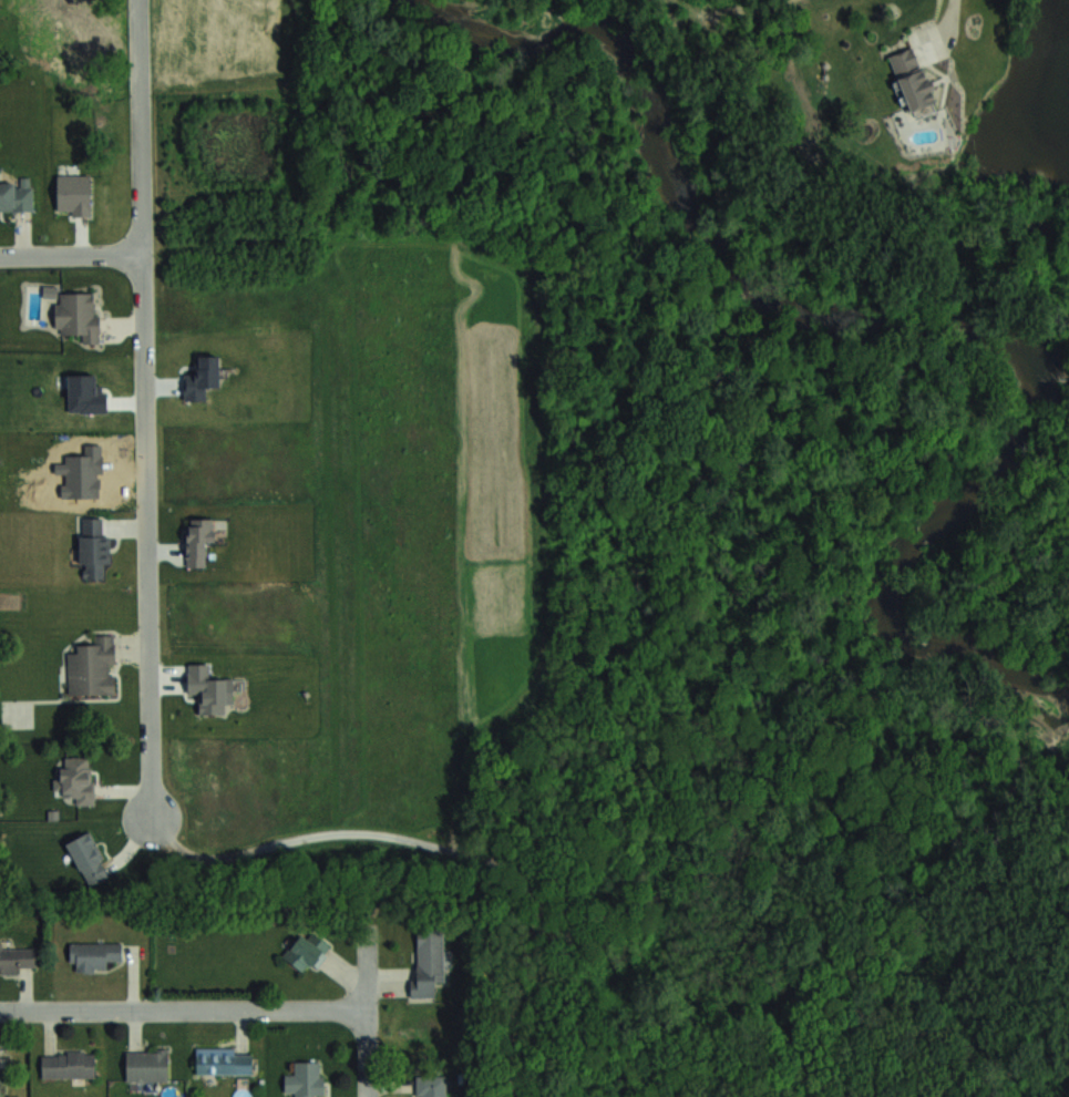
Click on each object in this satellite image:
road: (954, 20)
building: (911, 80)
building: (16, 197)
road: (71, 255)
building: (76, 315)
river: (911, 324)
road: (145, 411)
building: (197, 540)
building: (93, 548)
building: (92, 667)
building: (76, 779)
building: (89, 858)
building: (306, 951)
building: (93, 954)
building: (17, 957)
building: (428, 961)
road: (184, 1007)
road: (369, 1033)
building: (224, 1059)
building: (68, 1064)
building: (146, 1065)
building: (305, 1078)
building: (431, 1085)

